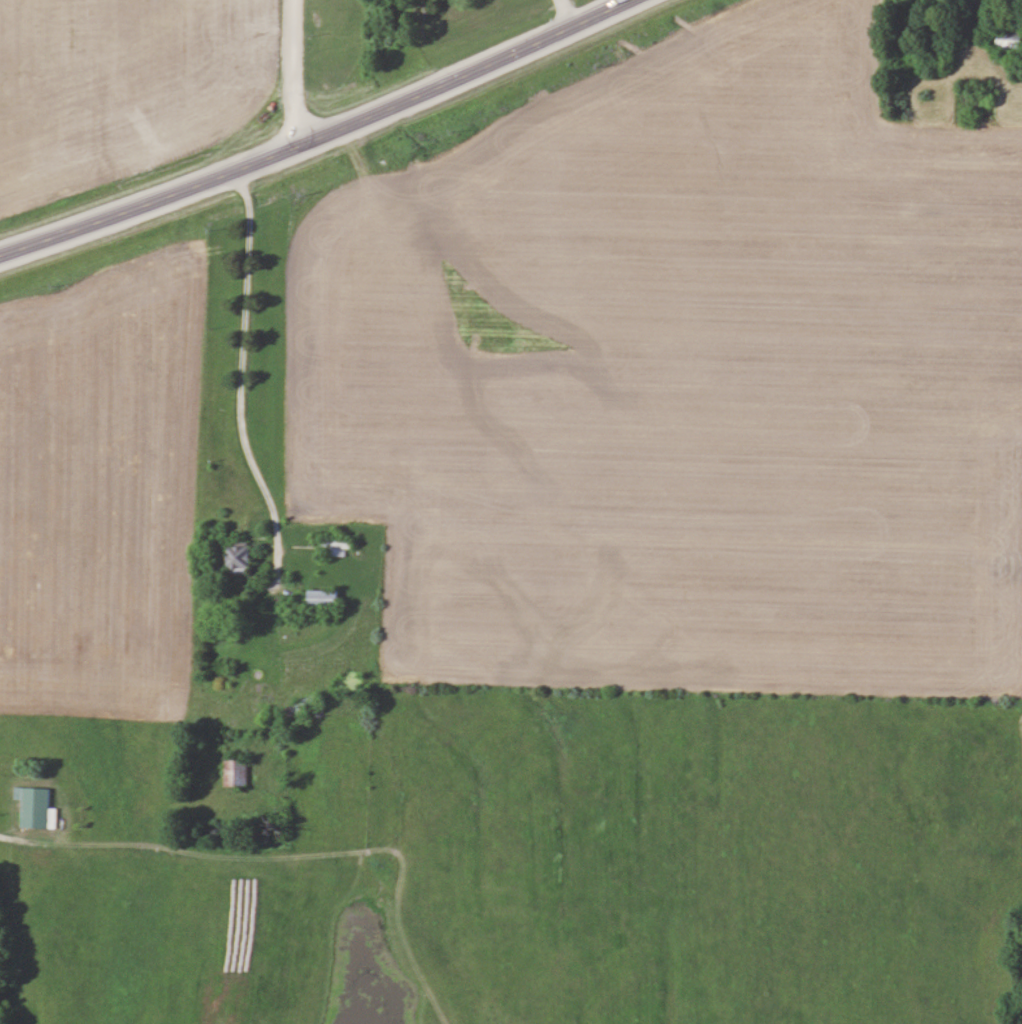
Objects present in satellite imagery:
road: (561, 14)
road: (287, 73)
road: (318, 133)
building: (333, 546)
building: (240, 557)
building: (325, 598)
building: (238, 771)
building: (35, 806)
road: (8, 841)

